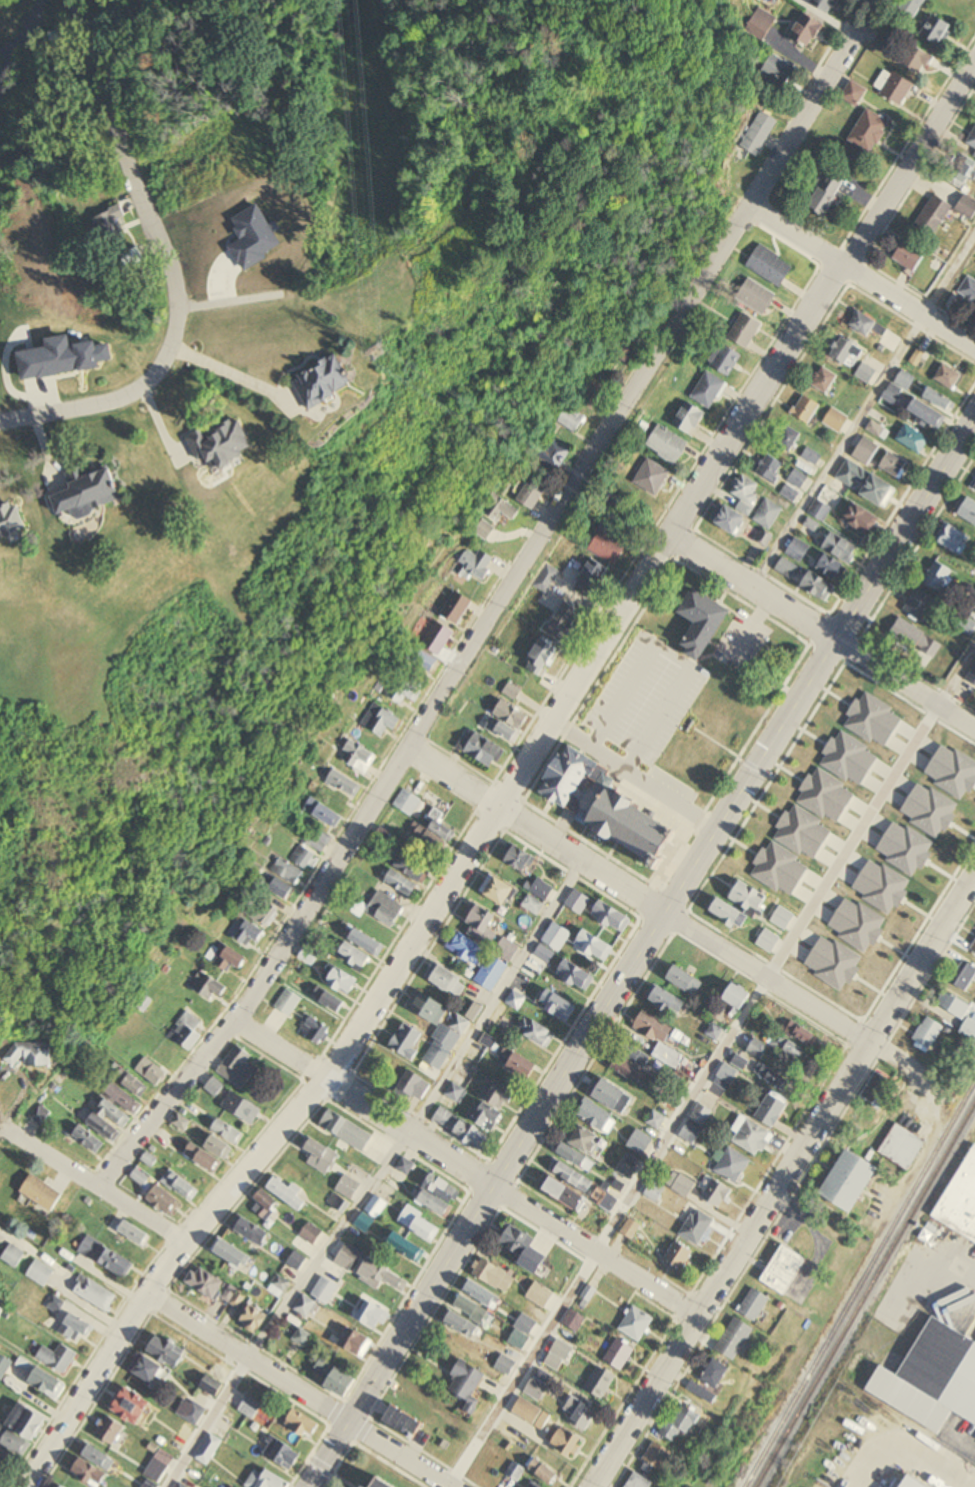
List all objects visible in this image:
building: (826, 5)
building: (910, 9)
building: (761, 25)
road: (15, 29)
building: (806, 31)
building: (938, 31)
building: (57, 38)
building: (917, 59)
building: (778, 73)
building: (857, 98)
building: (870, 132)
building: (760, 135)
building: (972, 141)
building: (961, 172)
building: (838, 193)
building: (968, 208)
building: (934, 216)
building: (107, 224)
building: (130, 257)
building: (910, 257)
road: (166, 264)
building: (771, 267)
road: (862, 277)
building: (968, 290)
building: (757, 298)
building: (866, 324)
building: (746, 332)
power tower: (385, 351)
building: (846, 351)
building: (918, 357)
building: (727, 361)
building: (866, 374)
road: (231, 375)
building: (947, 376)
building: (825, 380)
building: (323, 381)
building: (709, 390)
building: (892, 393)
building: (939, 398)
building: (807, 408)
road: (865, 410)
building: (927, 413)
building: (690, 418)
building: (572, 419)
building: (836, 420)
building: (877, 429)
building: (788, 437)
building: (912, 439)
building: (223, 444)
building: (668, 444)
building: (865, 451)
building: (554, 454)
building: (811, 456)
building: (893, 465)
building: (771, 468)
building: (850, 474)
building: (652, 476)
building: (794, 485)
building: (974, 488)
building: (93, 489)
building: (878, 490)
building: (533, 493)
building: (740, 504)
building: (824, 504)
building: (502, 508)
building: (968, 510)
building: (860, 518)
building: (767, 519)
building: (11, 520)
building: (484, 530)
building: (953, 537)
building: (609, 542)
building: (841, 547)
building: (798, 549)
building: (478, 563)
building: (830, 565)
building: (786, 568)
building: (593, 576)
building: (938, 576)
building: (545, 579)
building: (818, 586)
road: (498, 602)
building: (919, 605)
building: (457, 607)
building: (703, 622)
building: (967, 625)
road: (823, 630)
building: (439, 638)
building: (553, 638)
building: (917, 639)
building: (424, 660)
building: (972, 677)
road: (959, 681)
building: (405, 691)
building: (663, 710)
building: (381, 720)
building: (507, 722)
building: (480, 748)
building: (361, 756)
road: (635, 777)
building: (346, 783)
road: (513, 784)
building: (407, 802)
building: (610, 806)
building: (325, 813)
building: (432, 838)
road: (847, 839)
building: (319, 842)
building: (303, 857)
building: (521, 860)
building: (411, 868)
building: (287, 871)
building: (402, 883)
building: (283, 889)
building: (498, 890)
building: (541, 890)
road: (637, 896)
building: (748, 897)
building: (569, 907)
building: (380, 910)
building: (261, 911)
building: (727, 912)
building: (611, 917)
building: (482, 924)
building: (248, 935)
building: (556, 937)
building: (367, 942)
building: (594, 946)
building: (467, 949)
building: (974, 949)
building: (506, 951)
road: (640, 952)
building: (544, 955)
building: (355, 957)
building: (232, 960)
building: (491, 974)
building: (575, 976)
building: (965, 977)
building: (447, 980)
building: (685, 981)
building: (341, 982)
building: (209, 987)
building: (738, 997)
building: (329, 1001)
building: (515, 1001)
building: (666, 1001)
building: (288, 1004)
building: (957, 1005)
building: (558, 1006)
building: (427, 1008)
building: (970, 1029)
building: (189, 1031)
building: (315, 1031)
building: (455, 1032)
building: (535, 1032)
building: (715, 1032)
building: (801, 1033)
building: (655, 1035)
building: (407, 1042)
building: (798, 1052)
building: (31, 1054)
building: (437, 1056)
building: (630, 1065)
building: (522, 1066)
building: (237, 1068)
building: (152, 1072)
building: (726, 1077)
building: (137, 1086)
building: (415, 1086)
building: (214, 1087)
building: (876, 1088)
building: (455, 1092)
building: (611, 1095)
building: (125, 1098)
building: (494, 1106)
building: (242, 1107)
building: (773, 1108)
building: (40, 1115)
building: (701, 1115)
building: (597, 1117)
building: (444, 1118)
building: (111, 1121)
building: (182, 1122)
road: (1, 1128)
building: (346, 1130)
building: (228, 1131)
building: (472, 1135)
building: (750, 1135)
building: (89, 1139)
building: (588, 1142)
building: (640, 1143)
building: (220, 1147)
building: (901, 1147)
building: (321, 1152)
building: (576, 1157)
building: (205, 1158)
building: (150, 1160)
building: (732, 1165)
building: (405, 1166)
building: (628, 1168)
road: (464, 1169)
road: (379, 1175)
building: (574, 1177)
building: (142, 1179)
building: (853, 1180)
road: (782, 1184)
road: (91, 1185)
building: (181, 1185)
building: (684, 1186)
building: (347, 1187)
building: (655, 1192)
building: (42, 1193)
building: (288, 1193)
building: (715, 1193)
building: (567, 1194)
building: (439, 1195)
building: (960, 1200)
building: (165, 1201)
building: (337, 1202)
building: (376, 1206)
building: (266, 1207)
building: (364, 1222)
building: (420, 1224)
building: (697, 1228)
building: (630, 1229)
building: (250, 1230)
road: (603, 1231)
building: (134, 1233)
building: (313, 1236)
building: (519, 1242)
building: (406, 1246)
building: (342, 1250)
building: (231, 1253)
building: (13, 1256)
building: (679, 1256)
building: (106, 1257)
building: (296, 1260)
building: (785, 1271)
building: (40, 1273)
building: (494, 1274)
building: (390, 1277)
building: (205, 1282)
railway: (859, 1284)
building: (278, 1286)
building: (324, 1290)
building: (95, 1293)
railway: (864, 1293)
building: (482, 1294)
building: (540, 1296)
building: (233, 1297)
building: (756, 1305)
building: (304, 1306)
building: (373, 1315)
building: (466, 1317)
building: (254, 1319)
building: (574, 1321)
building: (636, 1324)
building: (74, 1328)
building: (522, 1333)
building: (302, 1337)
building: (736, 1340)
building: (359, 1344)
building: (167, 1351)
building: (619, 1355)
building: (57, 1358)
building: (556, 1360)
building: (4, 1365)
building: (505, 1366)
building: (149, 1370)
building: (716, 1375)
building: (931, 1377)
building: (336, 1378)
building: (46, 1383)
building: (600, 1383)
building: (468, 1385)
building: (212, 1387)
building: (537, 1390)
road: (295, 1392)
building: (703, 1393)
road: (374, 1405)
building: (131, 1406)
building: (250, 1407)
building: (191, 1412)
building: (527, 1412)
building: (582, 1414)
building: (26, 1422)
building: (405, 1422)
building: (681, 1423)
building: (303, 1424)
building: (110, 1431)
building: (12, 1441)
building: (568, 1443)
road: (904, 1446)
building: (208, 1450)
building: (281, 1453)
building: (660, 1457)
building: (93, 1467)
building: (1, 1468)
building: (545, 1473)
building: (266, 1480)
building: (640, 1482)
building: (914, 1482)
building: (381, 1483)
building: (181, 1486)
building: (536, 1486)

